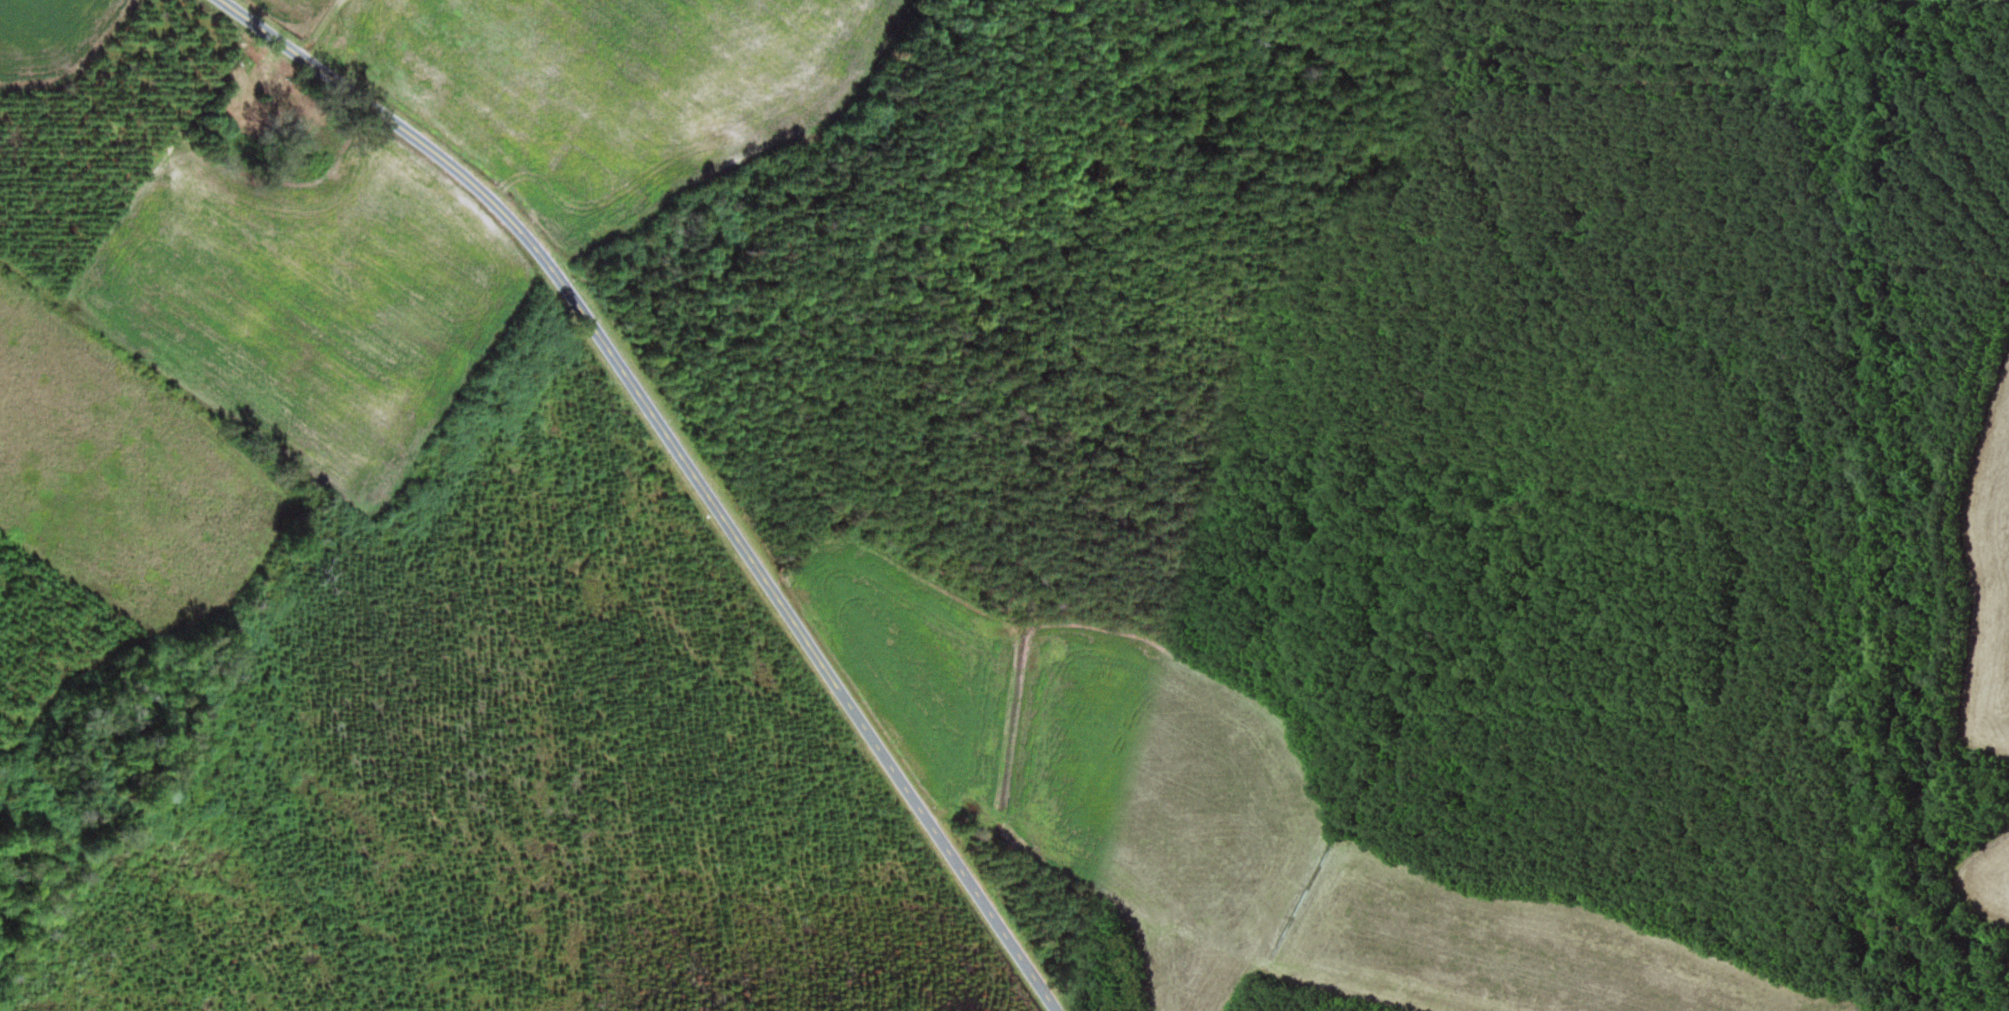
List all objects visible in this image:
road: (270, 26)
road: (316, 26)
road: (718, 500)

